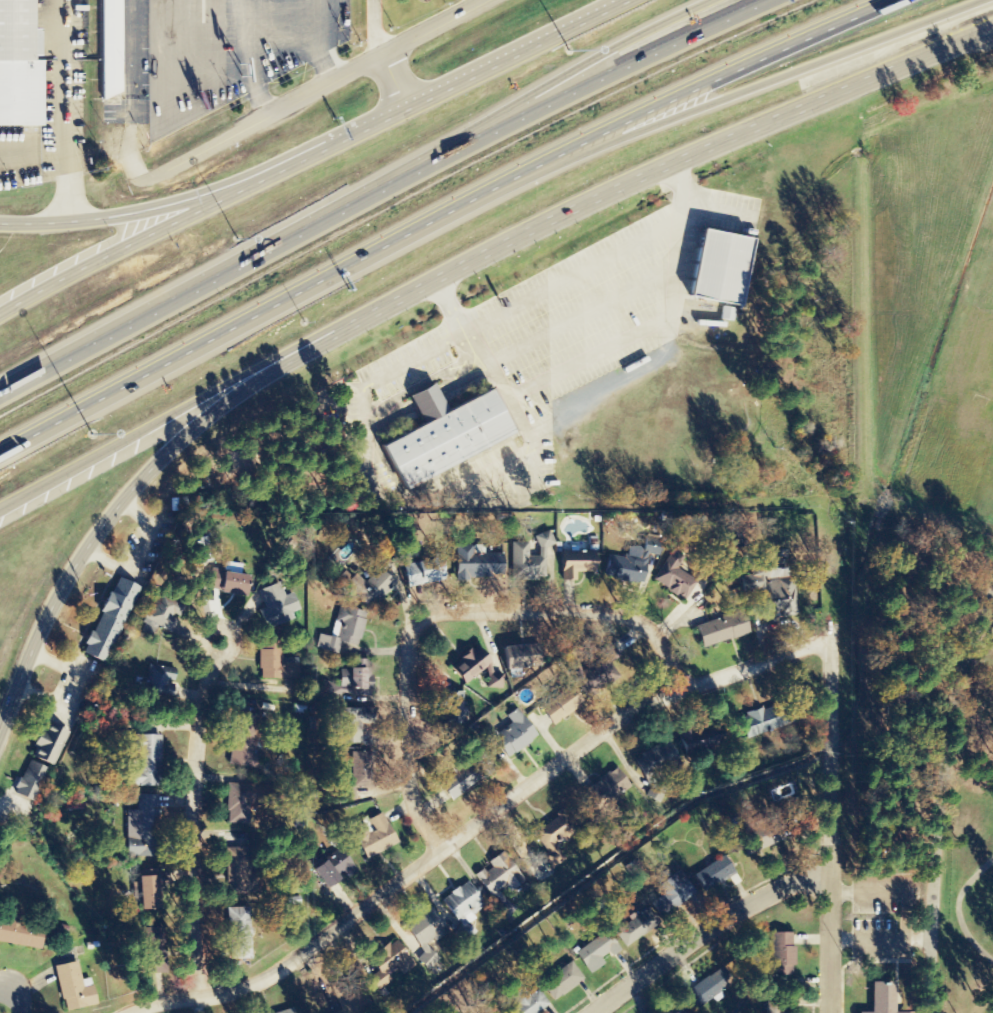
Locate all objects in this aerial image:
road: (437, 28)
road: (977, 36)
building: (109, 48)
road: (506, 49)
street lamp: (570, 54)
building: (19, 68)
road: (573, 72)
road: (604, 76)
road: (394, 79)
road: (278, 110)
road: (313, 150)
road: (592, 151)
road: (687, 153)
road: (542, 154)
road: (110, 215)
street lamp: (213, 244)
road: (108, 250)
building: (714, 267)
road: (219, 273)
building: (726, 314)
road: (108, 385)
road: (193, 397)
building: (441, 436)
street lamp: (92, 438)
road: (146, 473)
building: (543, 540)
building: (201, 546)
park: (919, 556)
building: (475, 564)
building: (525, 564)
building: (575, 564)
building: (624, 570)
building: (423, 573)
building: (673, 581)
building: (227, 582)
building: (370, 587)
building: (776, 601)
road: (449, 611)
building: (162, 613)
building: (278, 614)
building: (109, 622)
building: (722, 630)
building: (343, 631)
building: (523, 657)
building: (274, 662)
building: (469, 667)
building: (596, 673)
building: (356, 682)
building: (158, 683)
building: (560, 706)
building: (452, 709)
building: (771, 719)
building: (354, 724)
building: (510, 735)
building: (243, 741)
building: (695, 741)
building: (49, 746)
building: (657, 760)
building: (148, 761)
building: (362, 768)
building: (468, 778)
building: (31, 785)
building: (605, 790)
building: (348, 793)
building: (655, 793)
road: (942, 799)
building: (249, 800)
building: (73, 806)
road: (189, 807)
road: (473, 823)
road: (828, 826)
building: (144, 829)
building: (373, 837)
building: (759, 838)
building: (552, 841)
building: (332, 869)
building: (229, 873)
building: (712, 874)
building: (499, 876)
building: (671, 891)
building: (146, 894)
building: (460, 902)
road: (959, 909)
building: (635, 928)
road: (702, 930)
building: (428, 934)
building: (20, 935)
building: (238, 935)
building: (595, 953)
building: (782, 956)
building: (147, 958)
building: (394, 958)
building: (561, 982)
building: (73, 988)
building: (707, 990)
road: (16, 992)
building: (883, 998)
building: (527, 1002)
building: (359, 1003)
building: (286, 1010)

